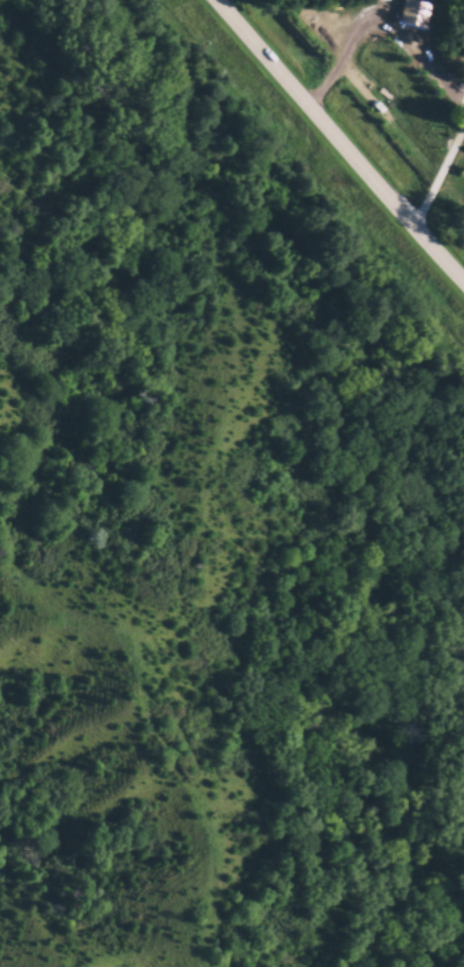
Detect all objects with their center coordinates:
road: (378, 21)
road: (336, 143)
road: (438, 175)

